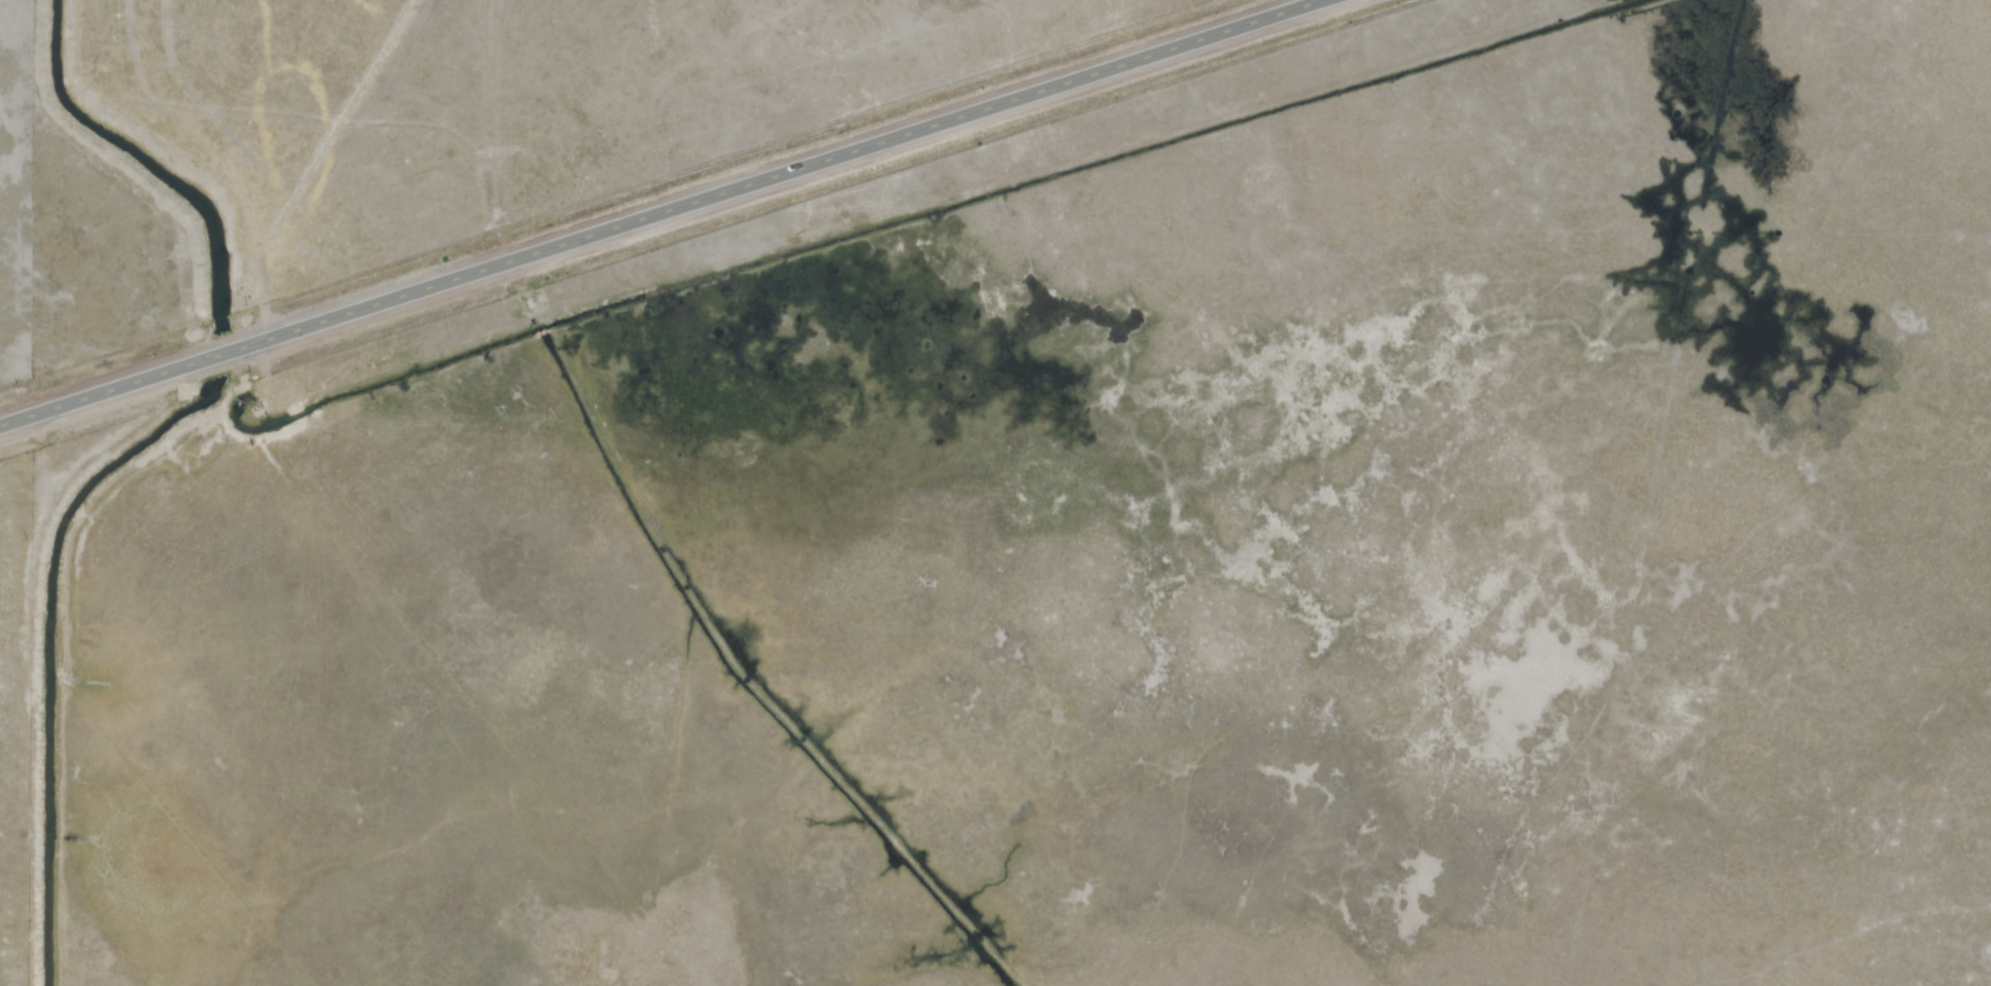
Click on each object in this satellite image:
road: (660, 212)

